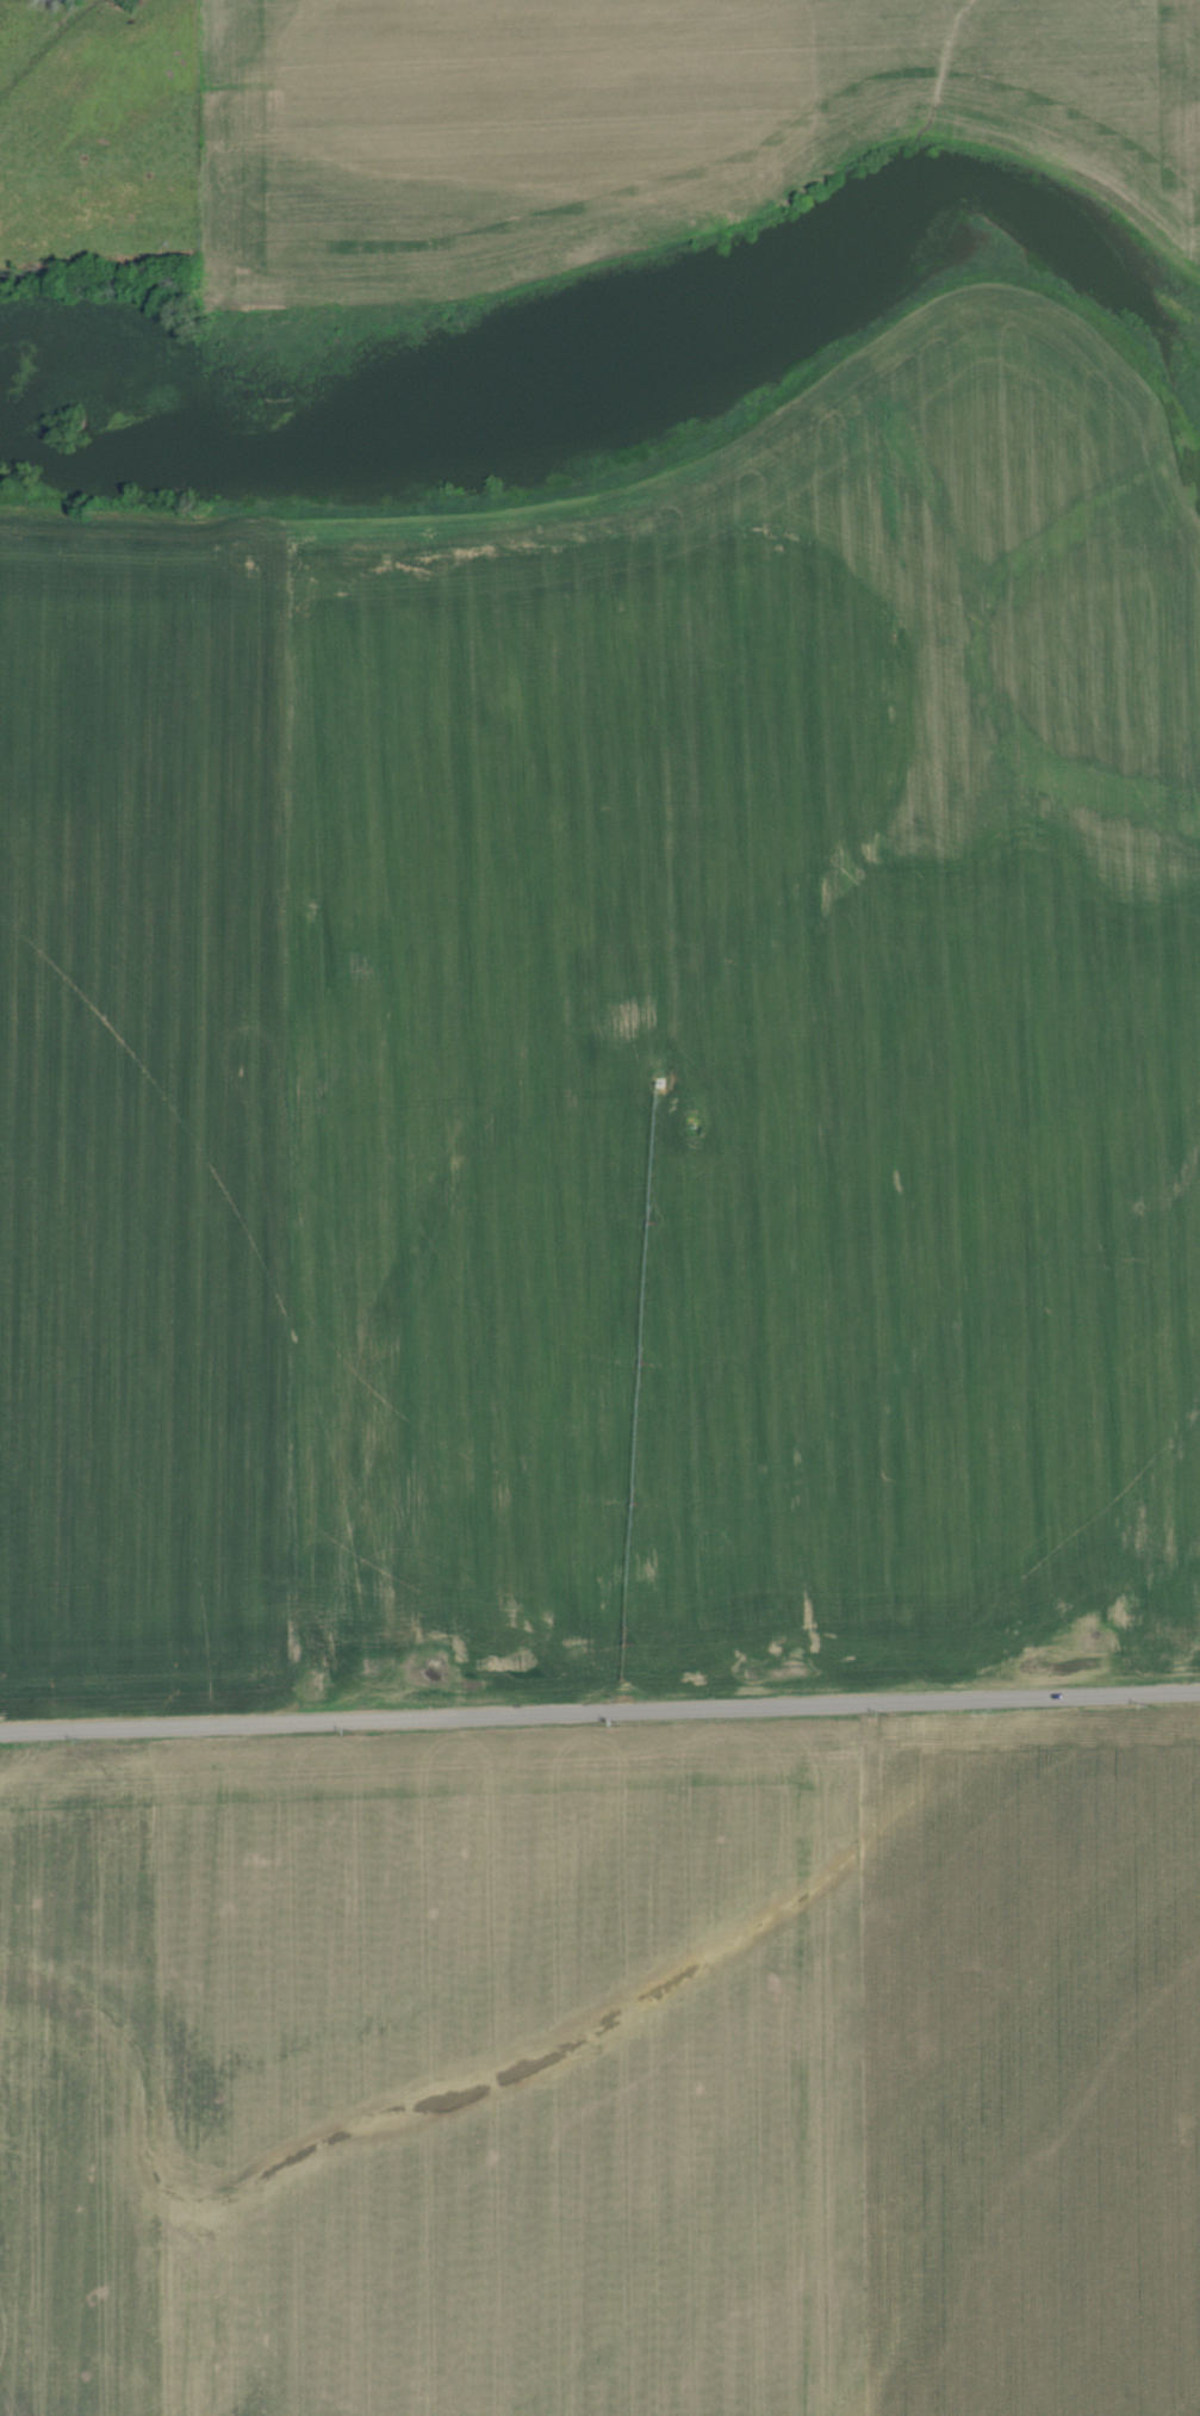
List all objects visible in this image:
road: (599, 1710)

